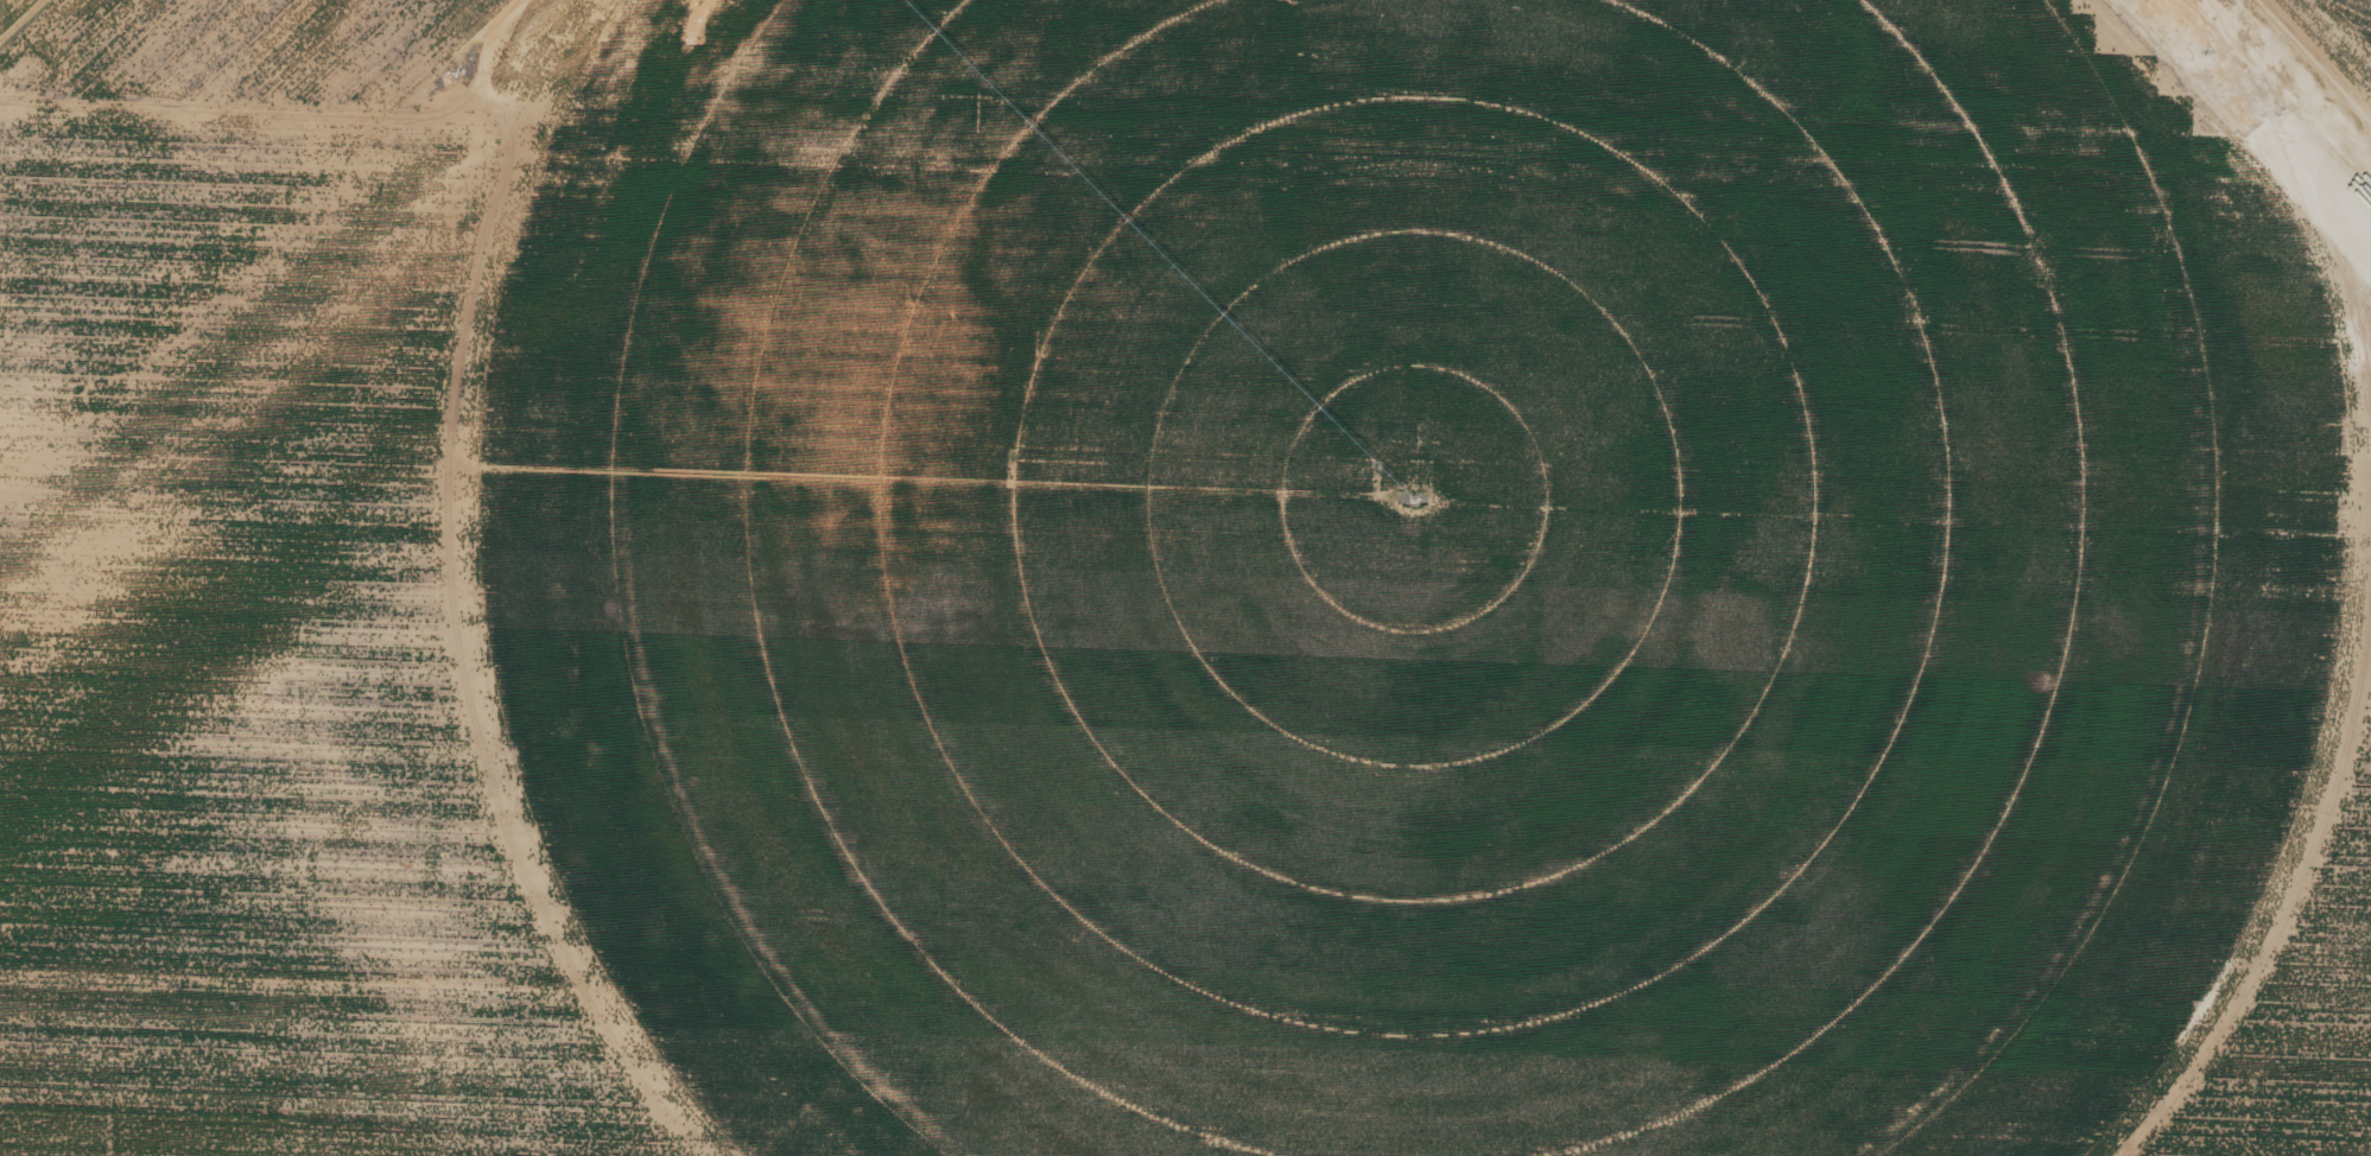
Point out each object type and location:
crop: (1378, 564)
airport: (1185, 578)
building: (761, 614)

